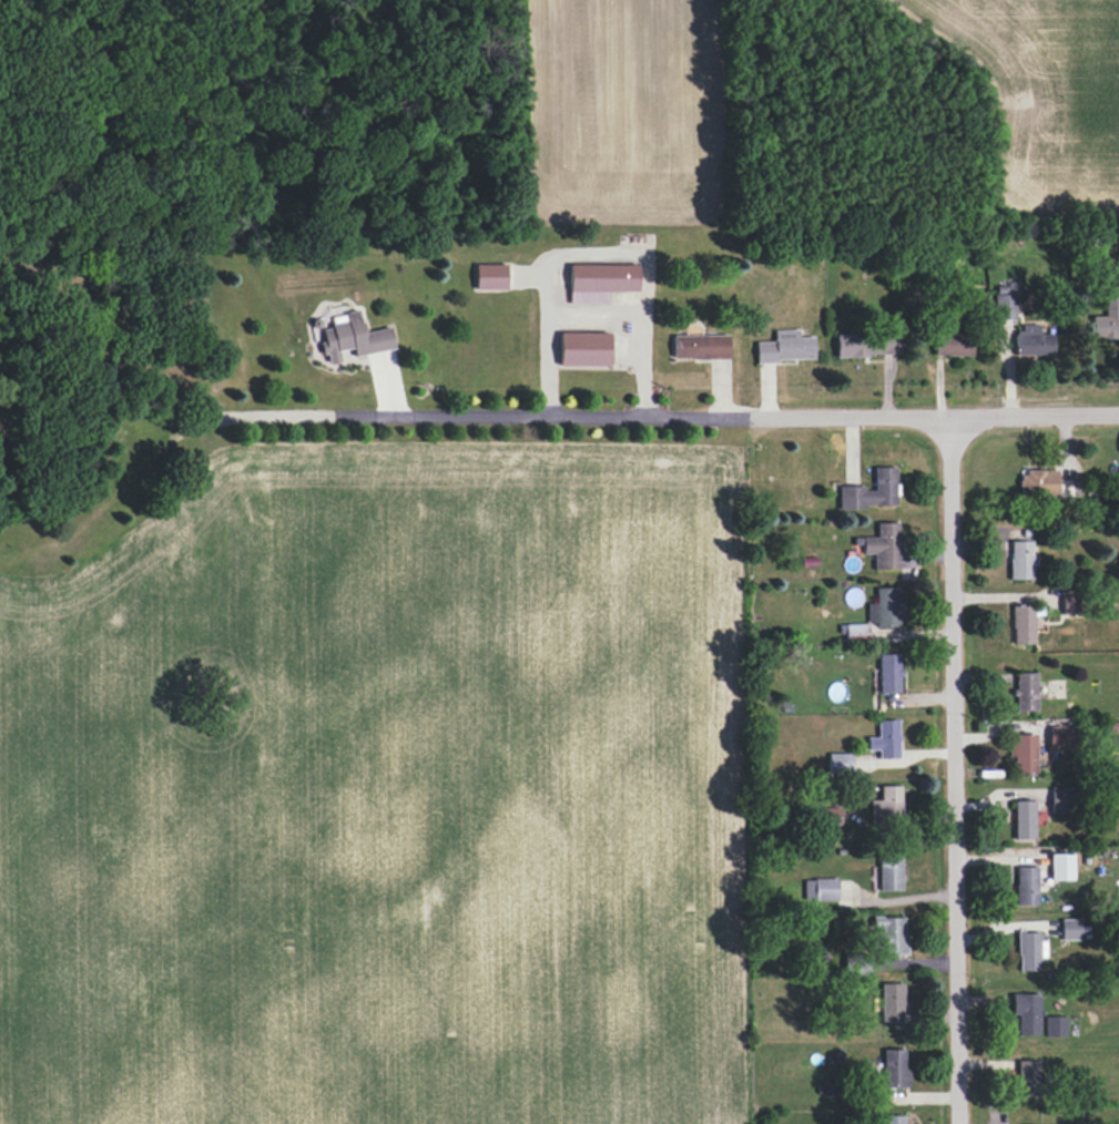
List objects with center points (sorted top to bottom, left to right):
building: (490, 277)
building: (599, 282)
building: (1004, 302)
building: (1107, 317)
building: (353, 337)
building: (1032, 340)
building: (952, 344)
building: (866, 345)
building: (700, 347)
building: (784, 347)
building: (583, 349)
road: (729, 416)
building: (1038, 482)
building: (869, 492)
building: (882, 546)
building: (1019, 560)
building: (1069, 604)
building: (884, 609)
building: (1023, 625)
building: (855, 633)
building: (888, 673)
building: (1025, 692)
building: (1060, 737)
building: (885, 739)
building: (1023, 753)
building: (840, 763)
road: (956, 770)
building: (1061, 799)
building: (887, 805)
building: (1024, 819)
building: (1061, 867)
building: (889, 872)
building: (1026, 886)
building: (821, 889)
building: (1070, 929)
building: (891, 936)
building: (1029, 951)
building: (892, 1002)
building: (1026, 1013)
building: (1055, 1026)
building: (894, 1070)
building: (1027, 1080)

